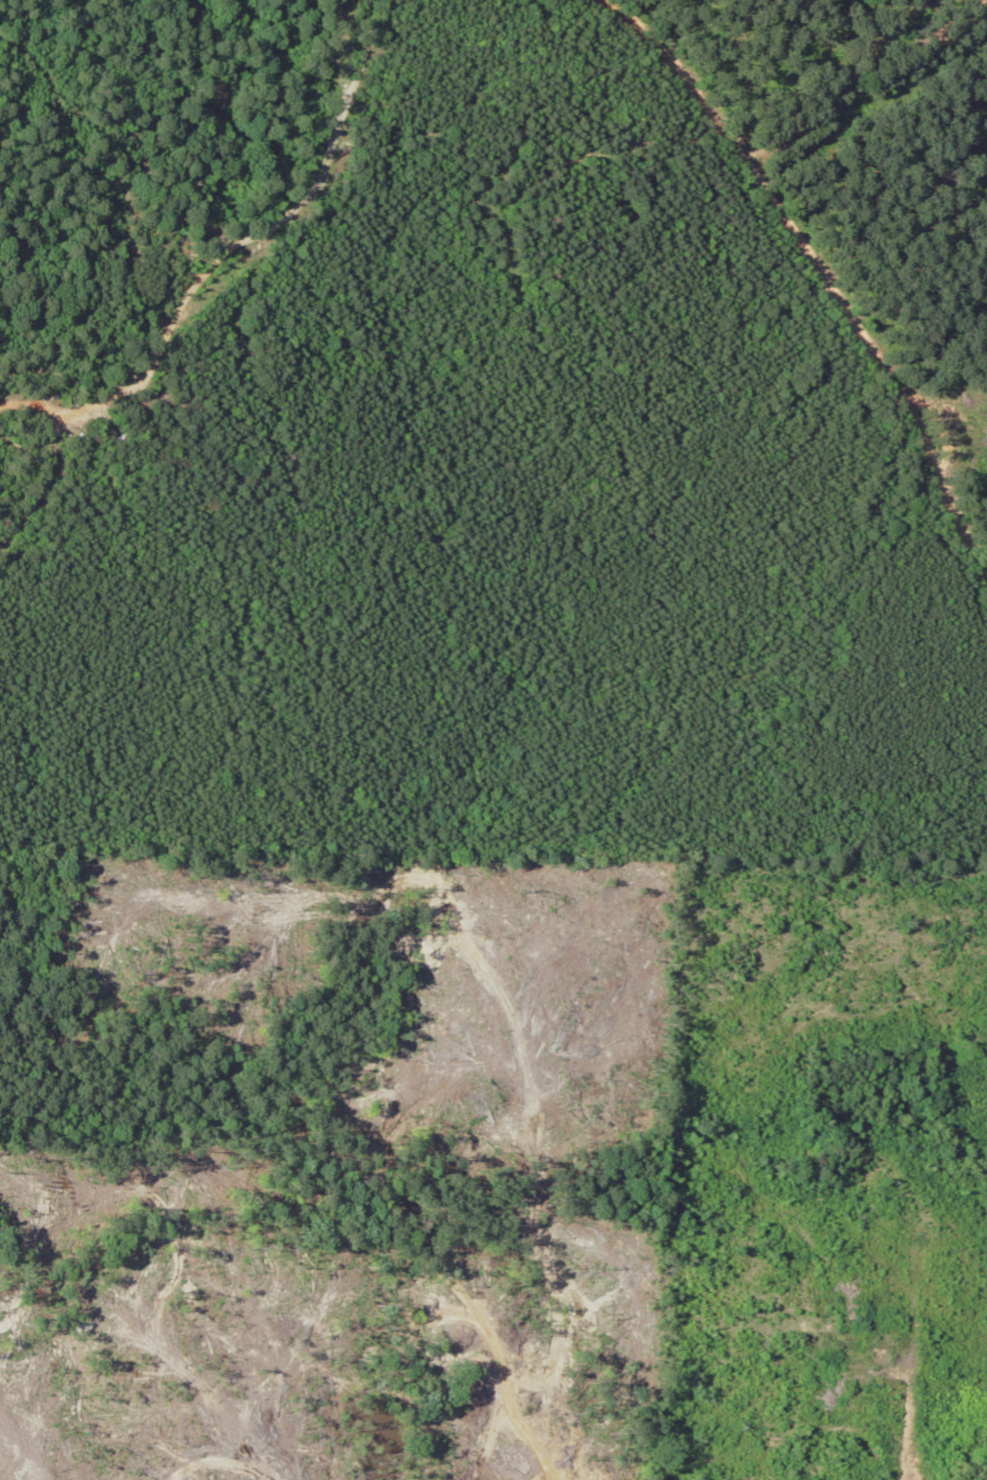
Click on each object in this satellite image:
road: (822, 272)

